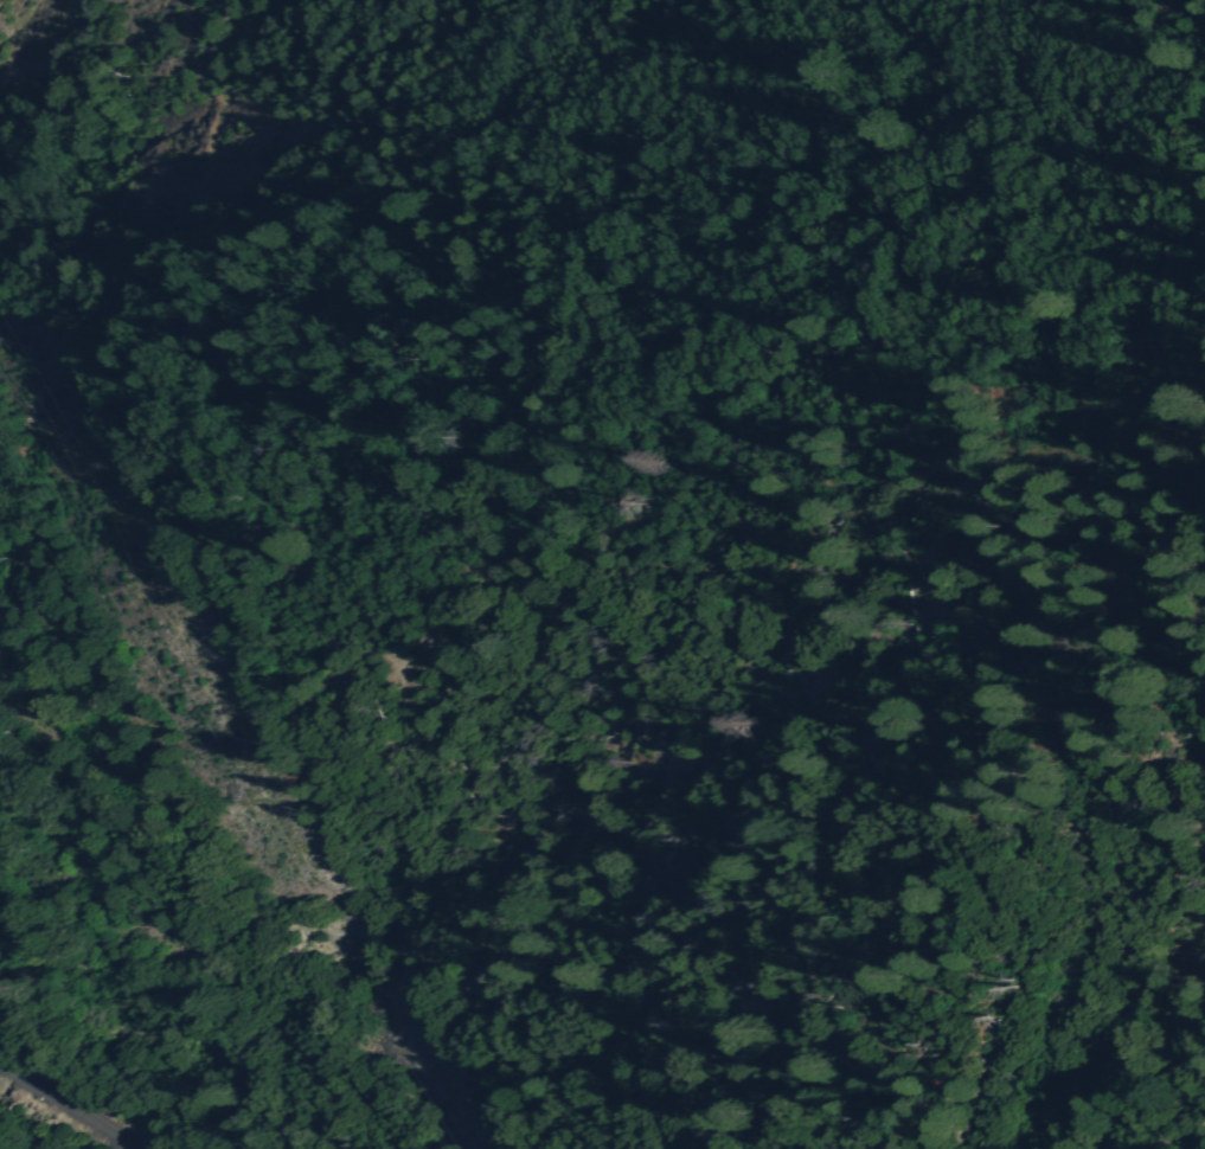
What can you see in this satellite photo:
power tower: (137, 590)
railway: (72, 1105)

